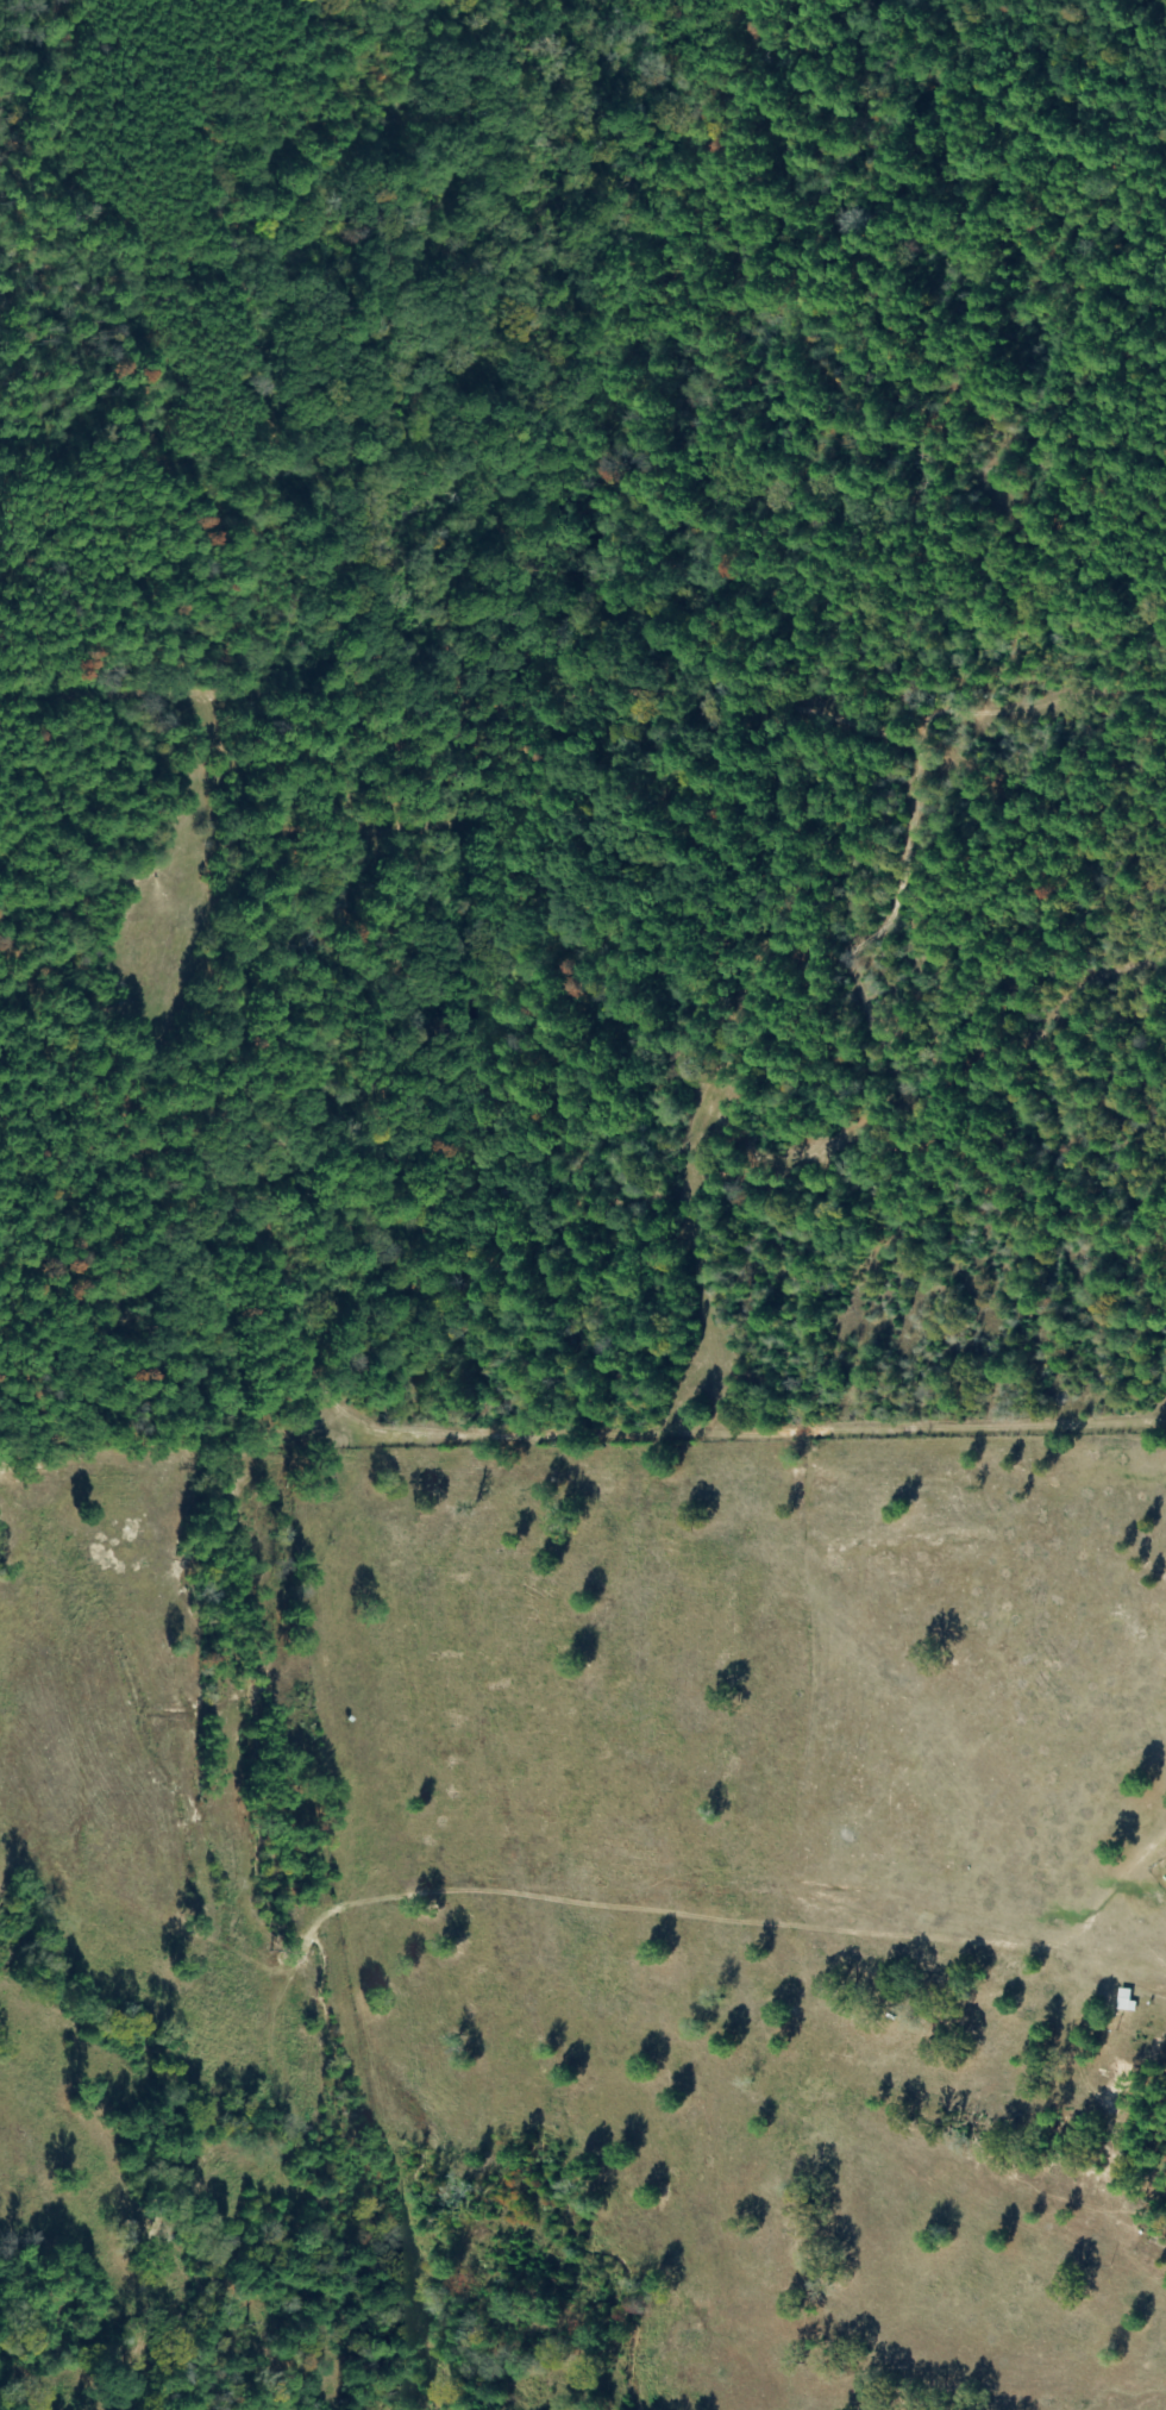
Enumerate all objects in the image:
building: (1128, 1999)

